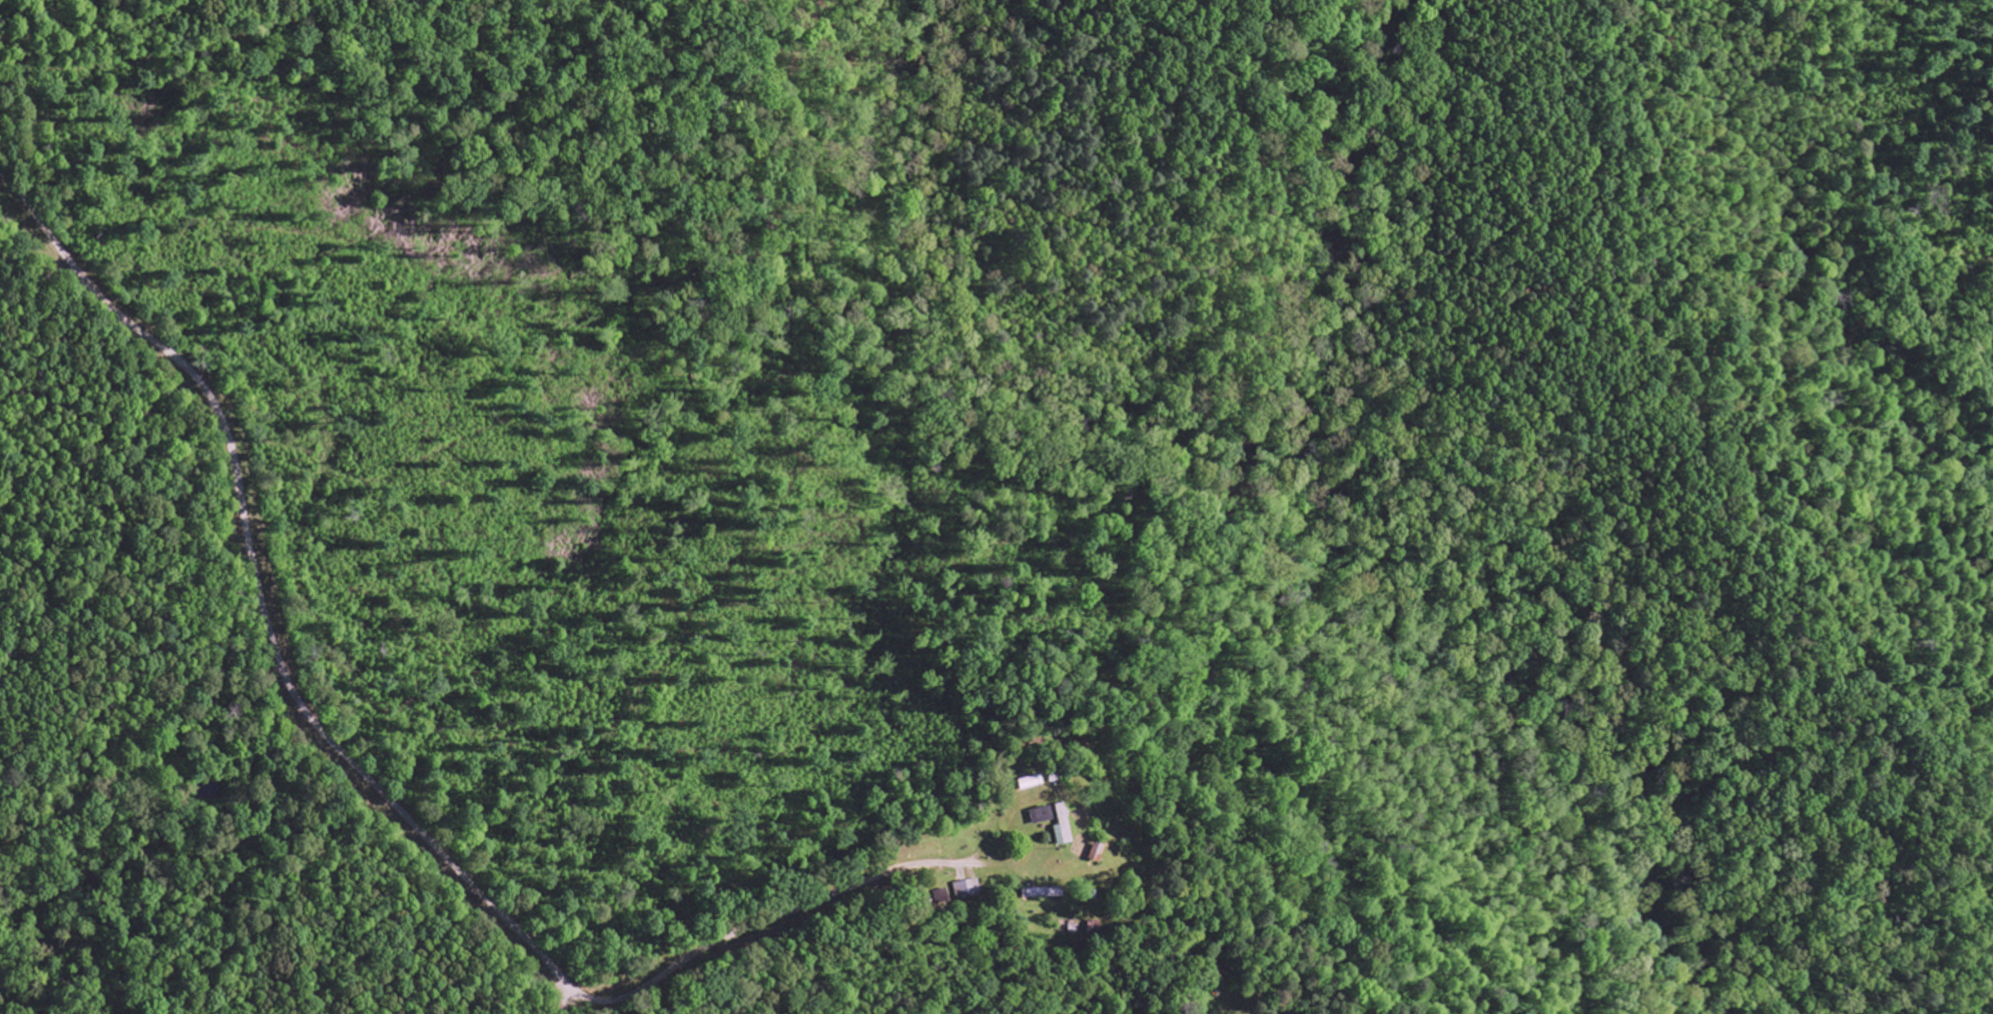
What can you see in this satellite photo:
road: (259, 600)
building: (1058, 822)
building: (969, 889)
road: (767, 912)

